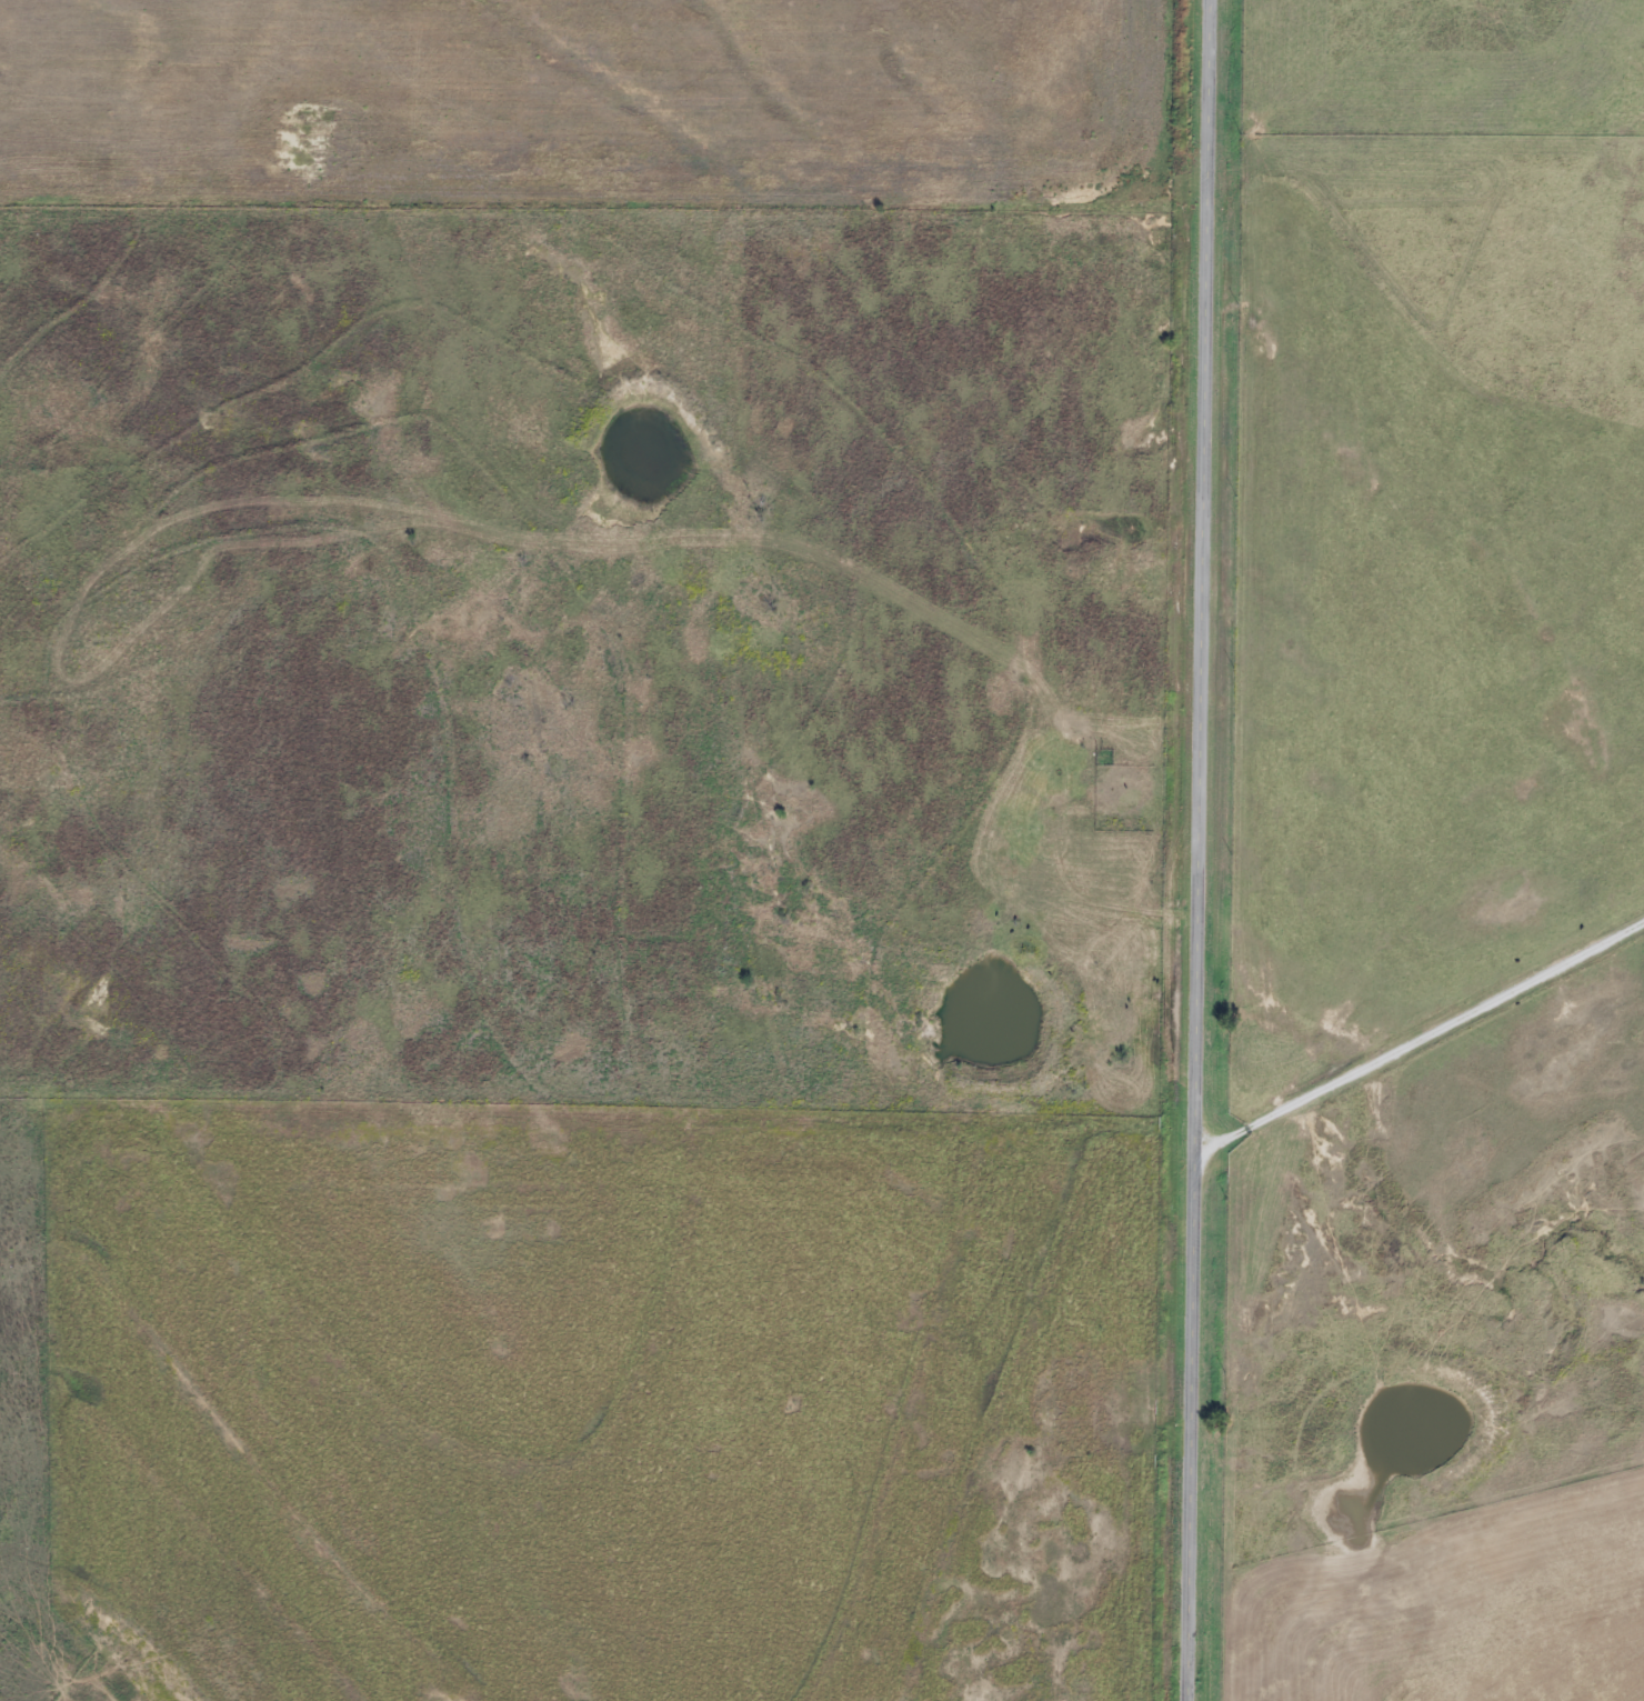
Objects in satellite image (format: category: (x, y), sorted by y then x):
road: (1194, 850)
road: (1422, 1025)

